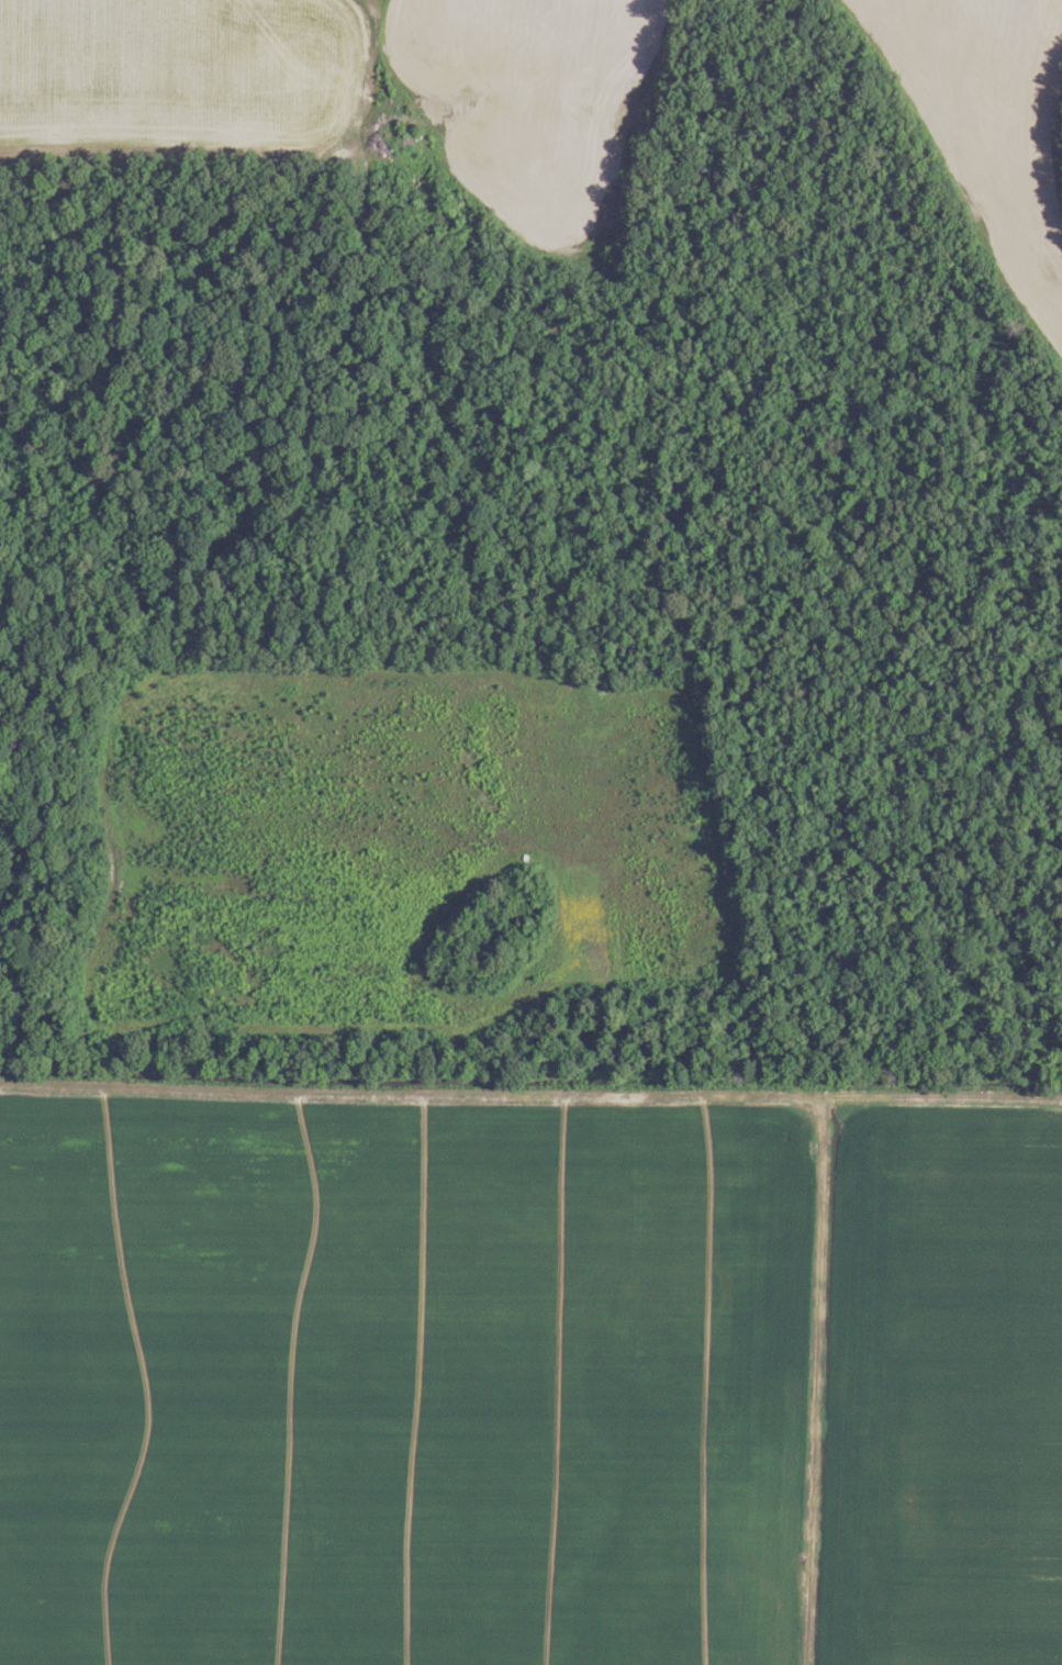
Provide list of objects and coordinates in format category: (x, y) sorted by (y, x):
road: (369, 78)

